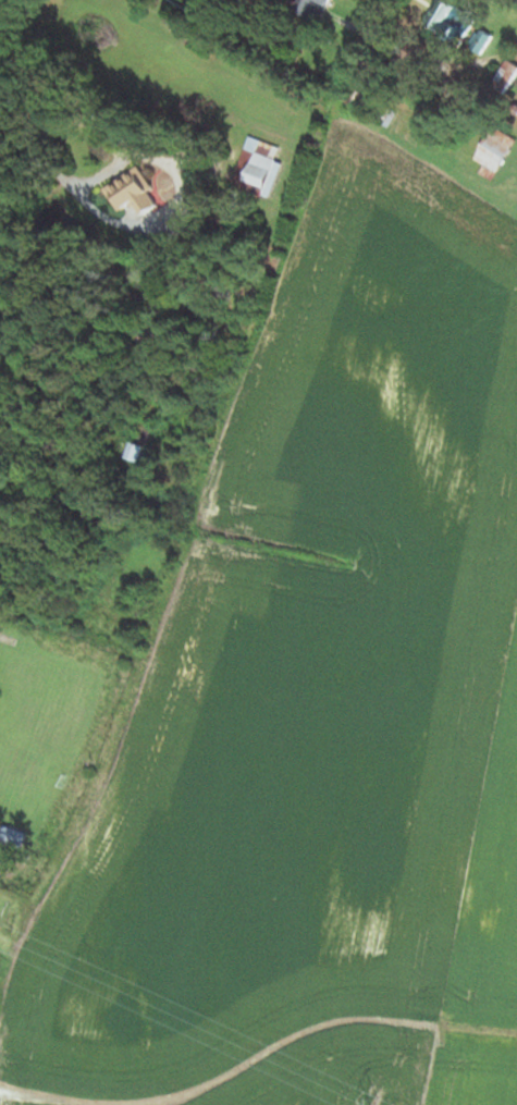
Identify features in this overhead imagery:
building: (312, 8)
building: (448, 22)
building: (479, 42)
building: (503, 77)
building: (356, 99)
building: (383, 114)
building: (491, 155)
building: (255, 168)
building: (131, 192)
building: (143, 334)
building: (141, 433)
building: (12, 837)
power tower: (374, 1104)

